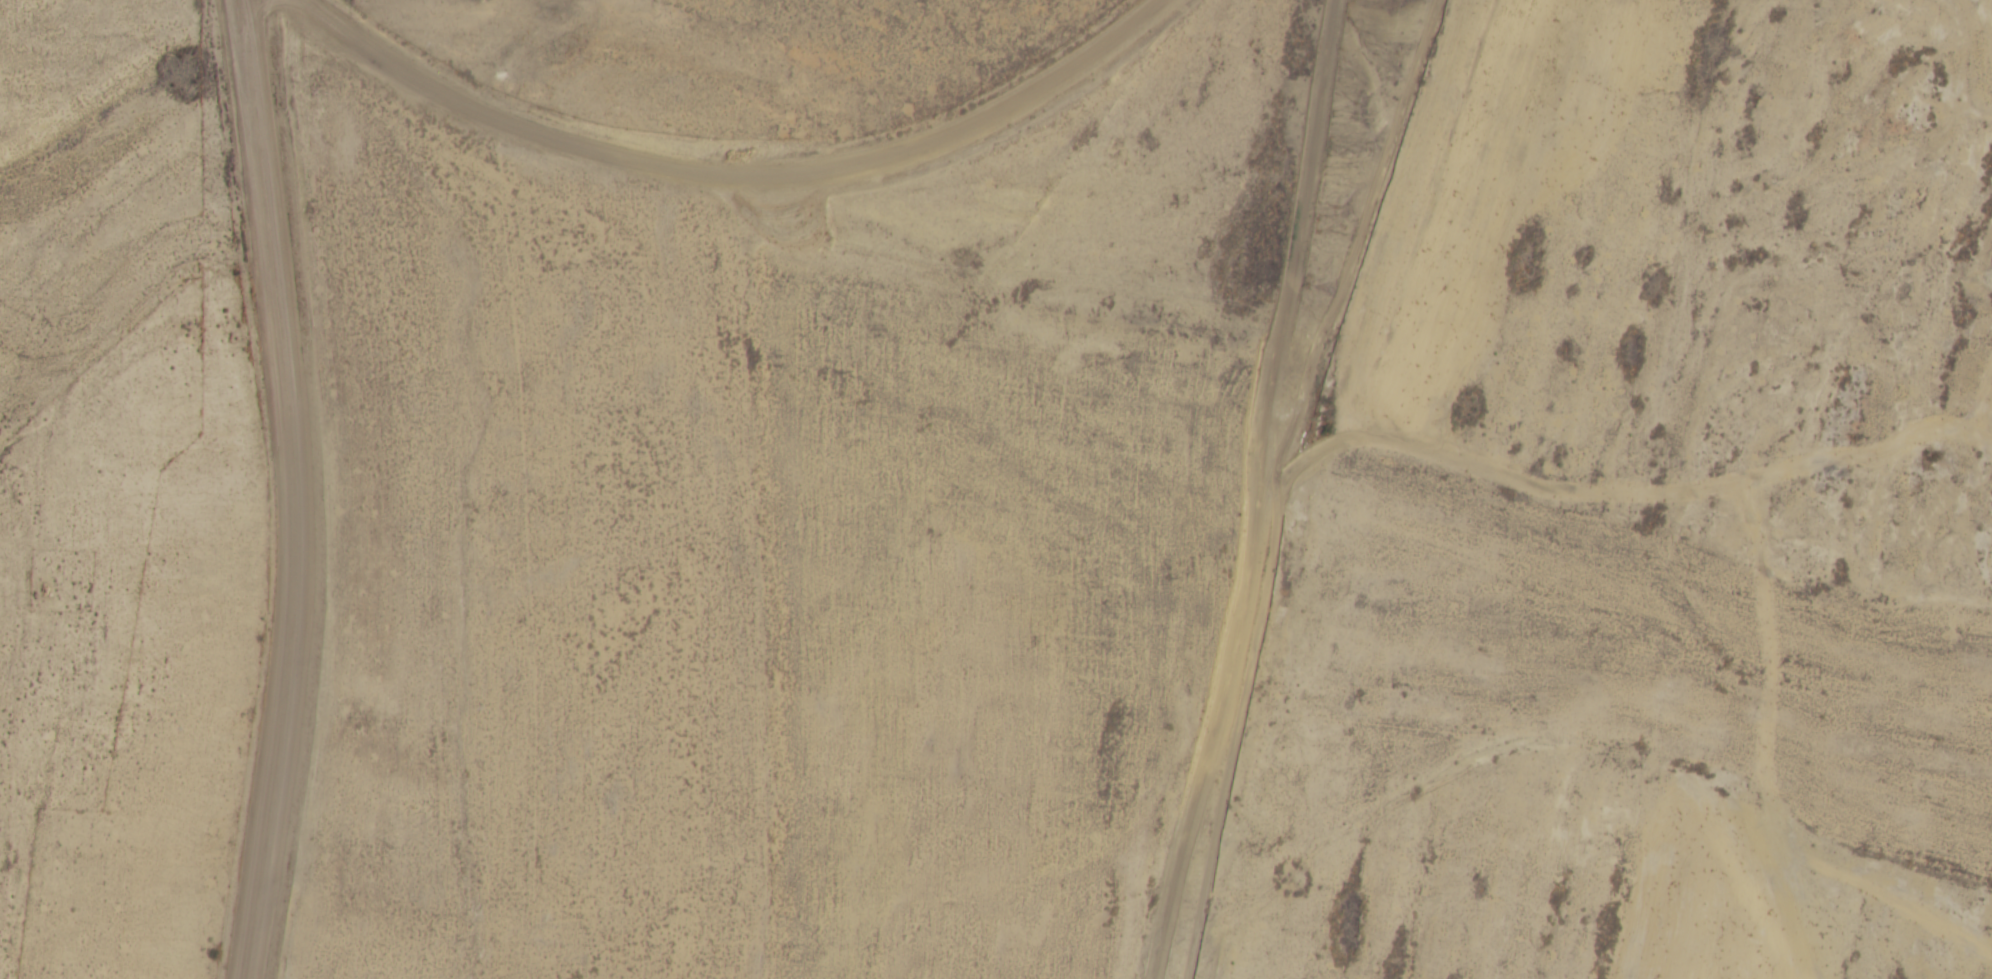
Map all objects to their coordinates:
road: (143, 201)
quarry: (1182, 525)
road: (117, 690)

